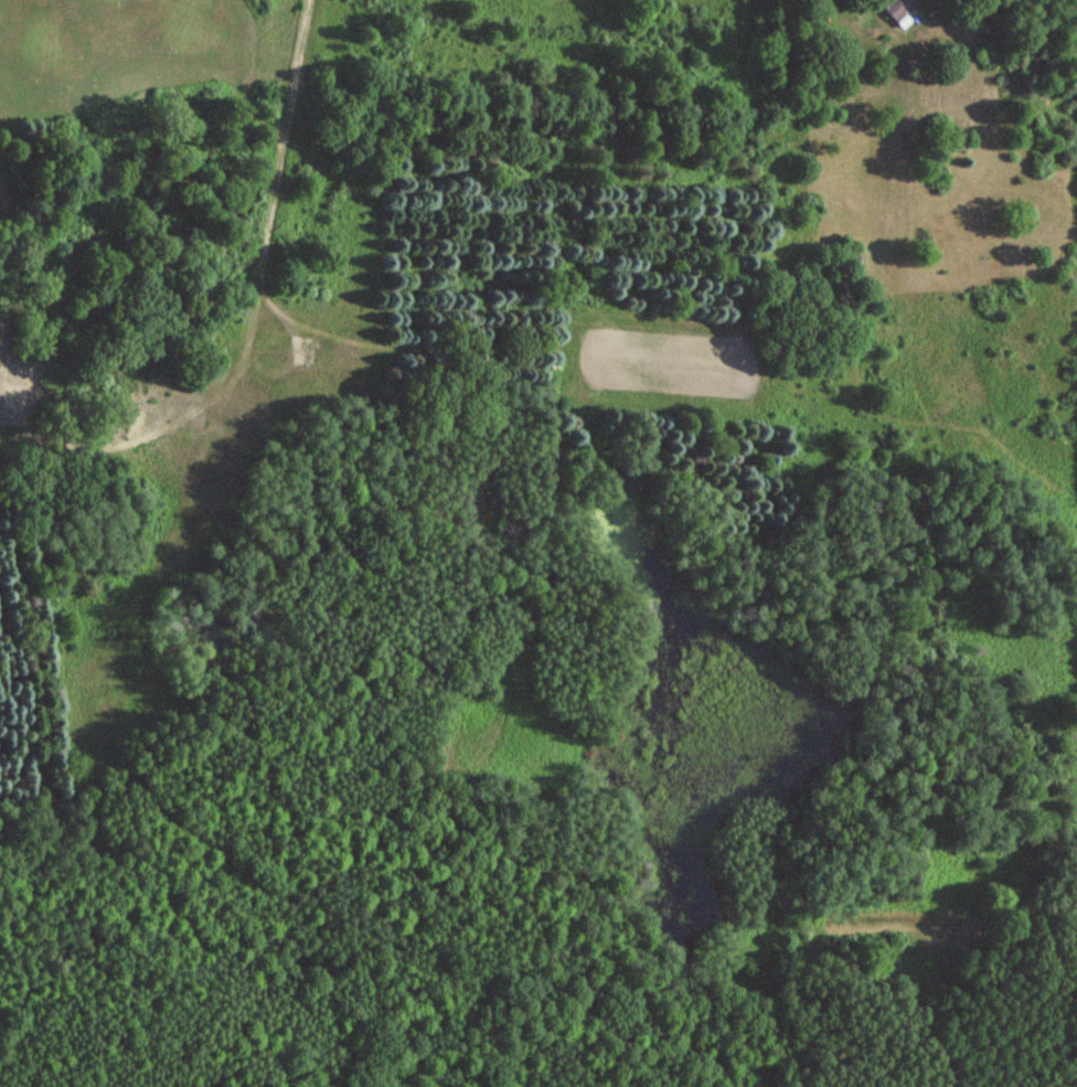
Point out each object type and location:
building: (896, 8)
road: (265, 201)

